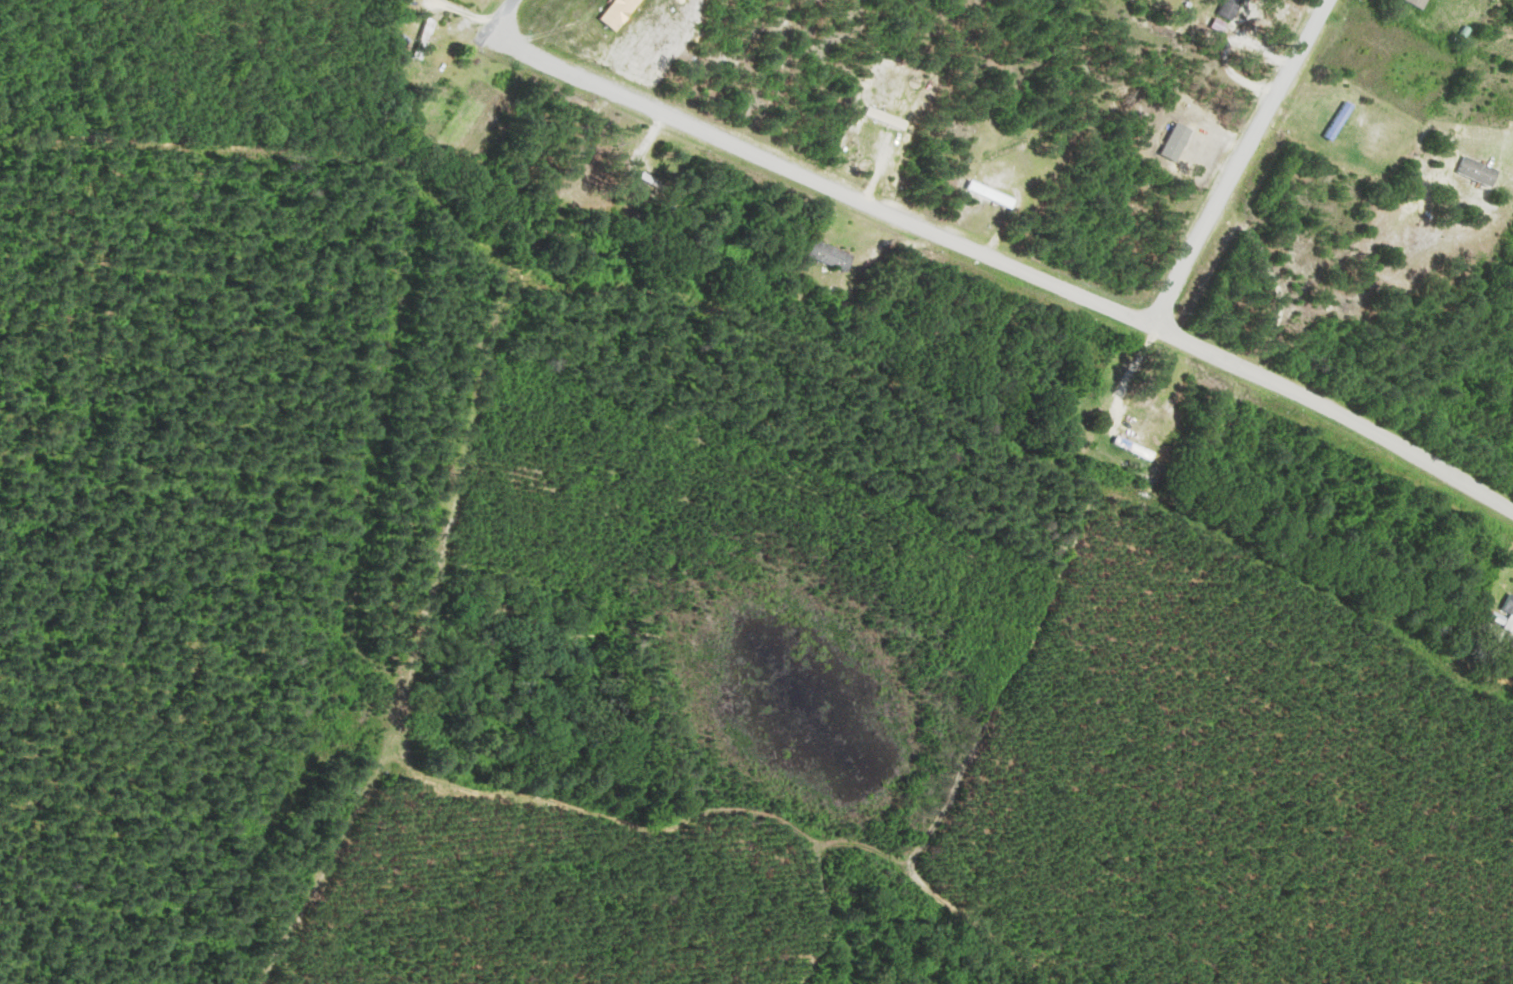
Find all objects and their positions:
building: (1423, 3)
building: (1233, 8)
road: (497, 22)
road: (1239, 161)
building: (994, 194)
building: (833, 256)
road: (1006, 257)
building: (1136, 448)
building: (1510, 604)
building: (1510, 625)

